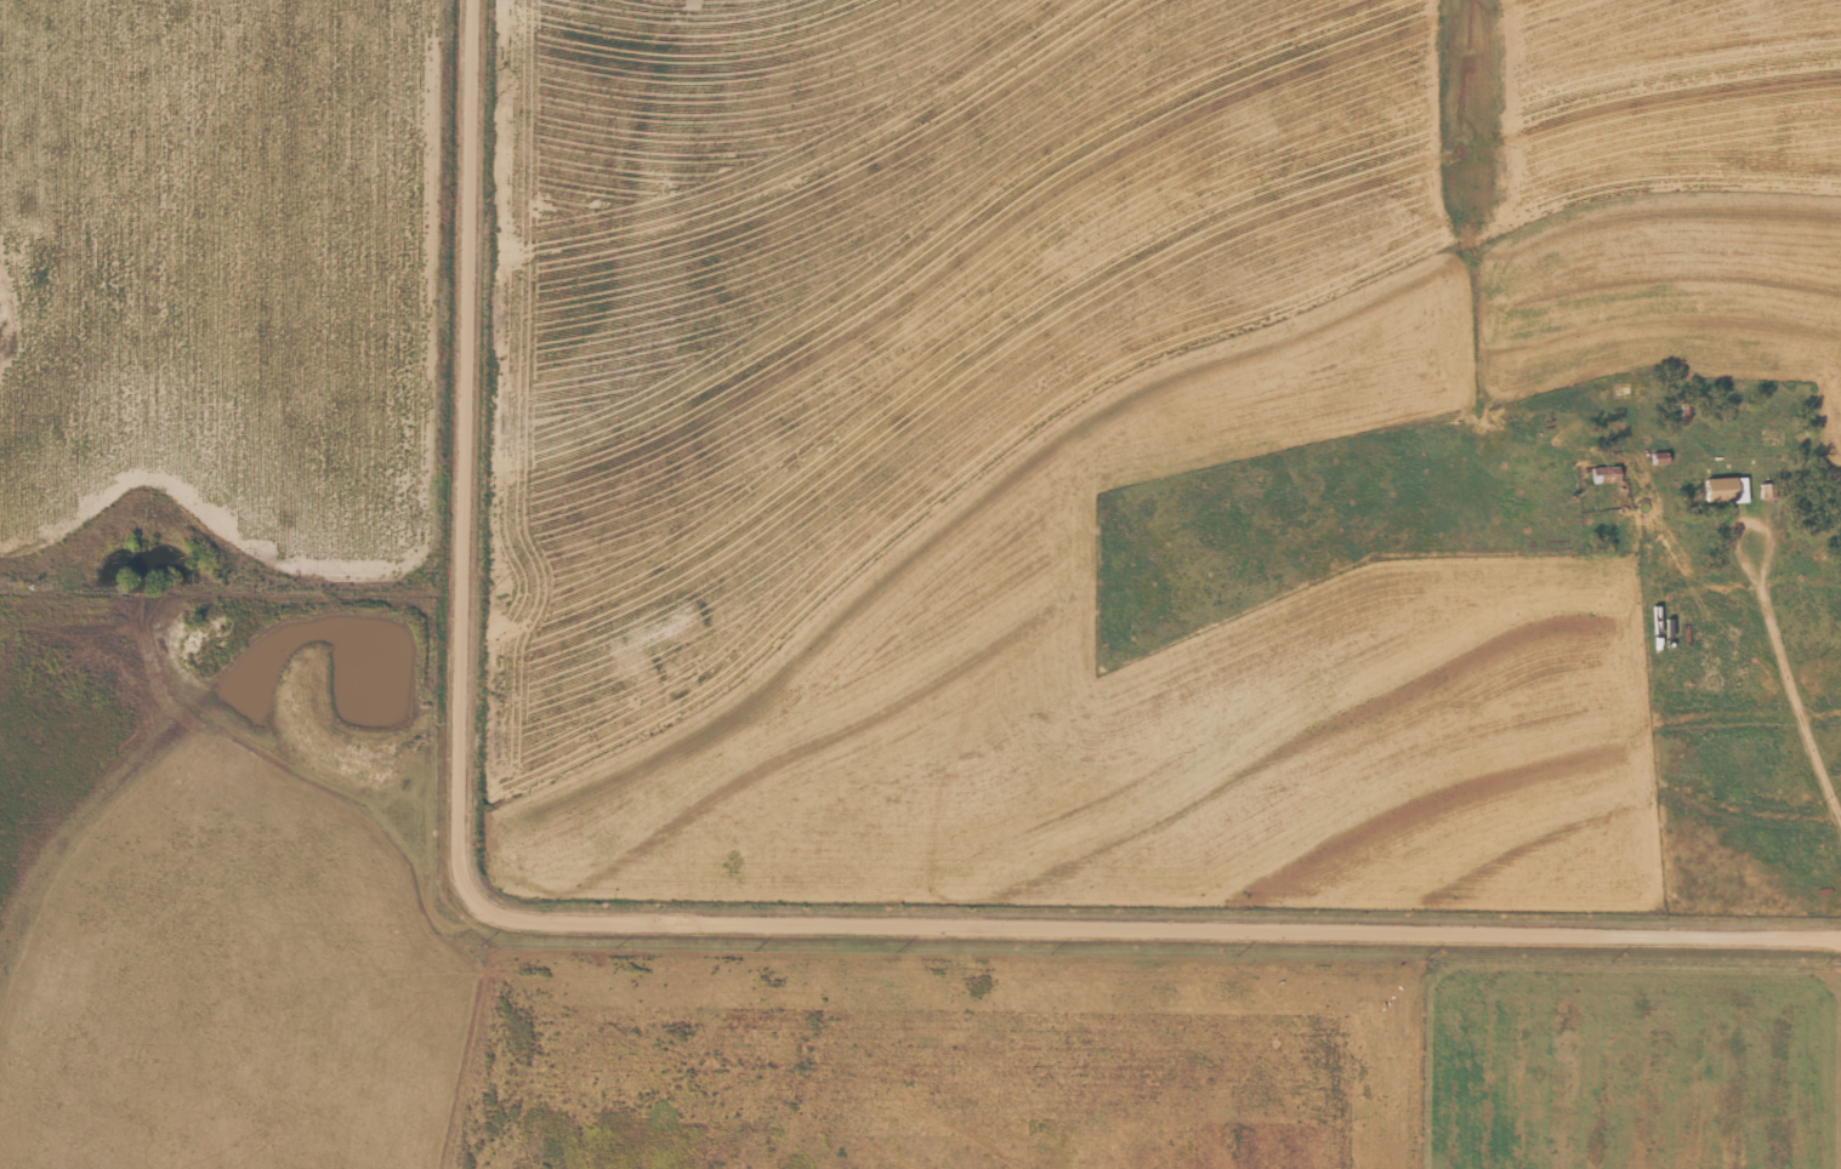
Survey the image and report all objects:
building: (1728, 489)
road: (1791, 635)
road: (711, 914)

